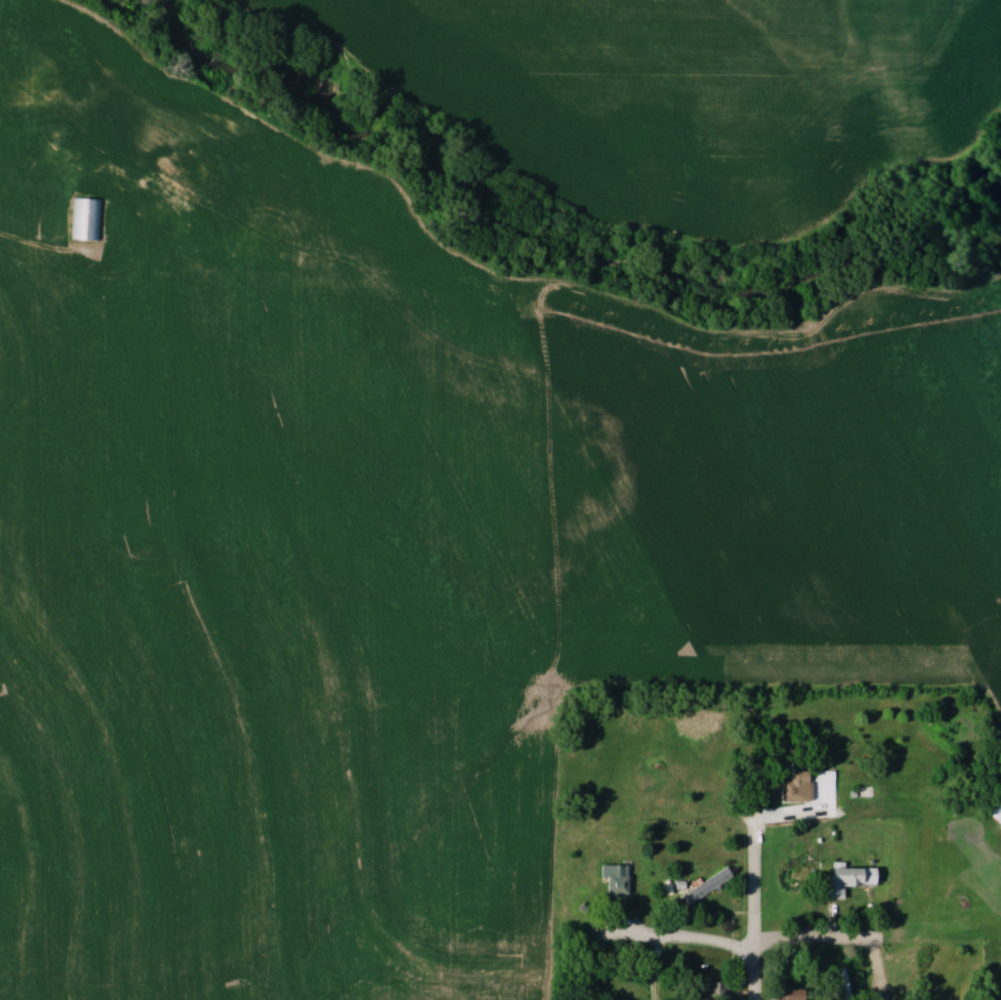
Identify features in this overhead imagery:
building: (87, 220)
building: (790, 787)
building: (994, 811)
building: (787, 879)
building: (844, 879)
building: (613, 880)
road: (758, 912)
road: (772, 947)
building: (711, 990)
building: (787, 993)

